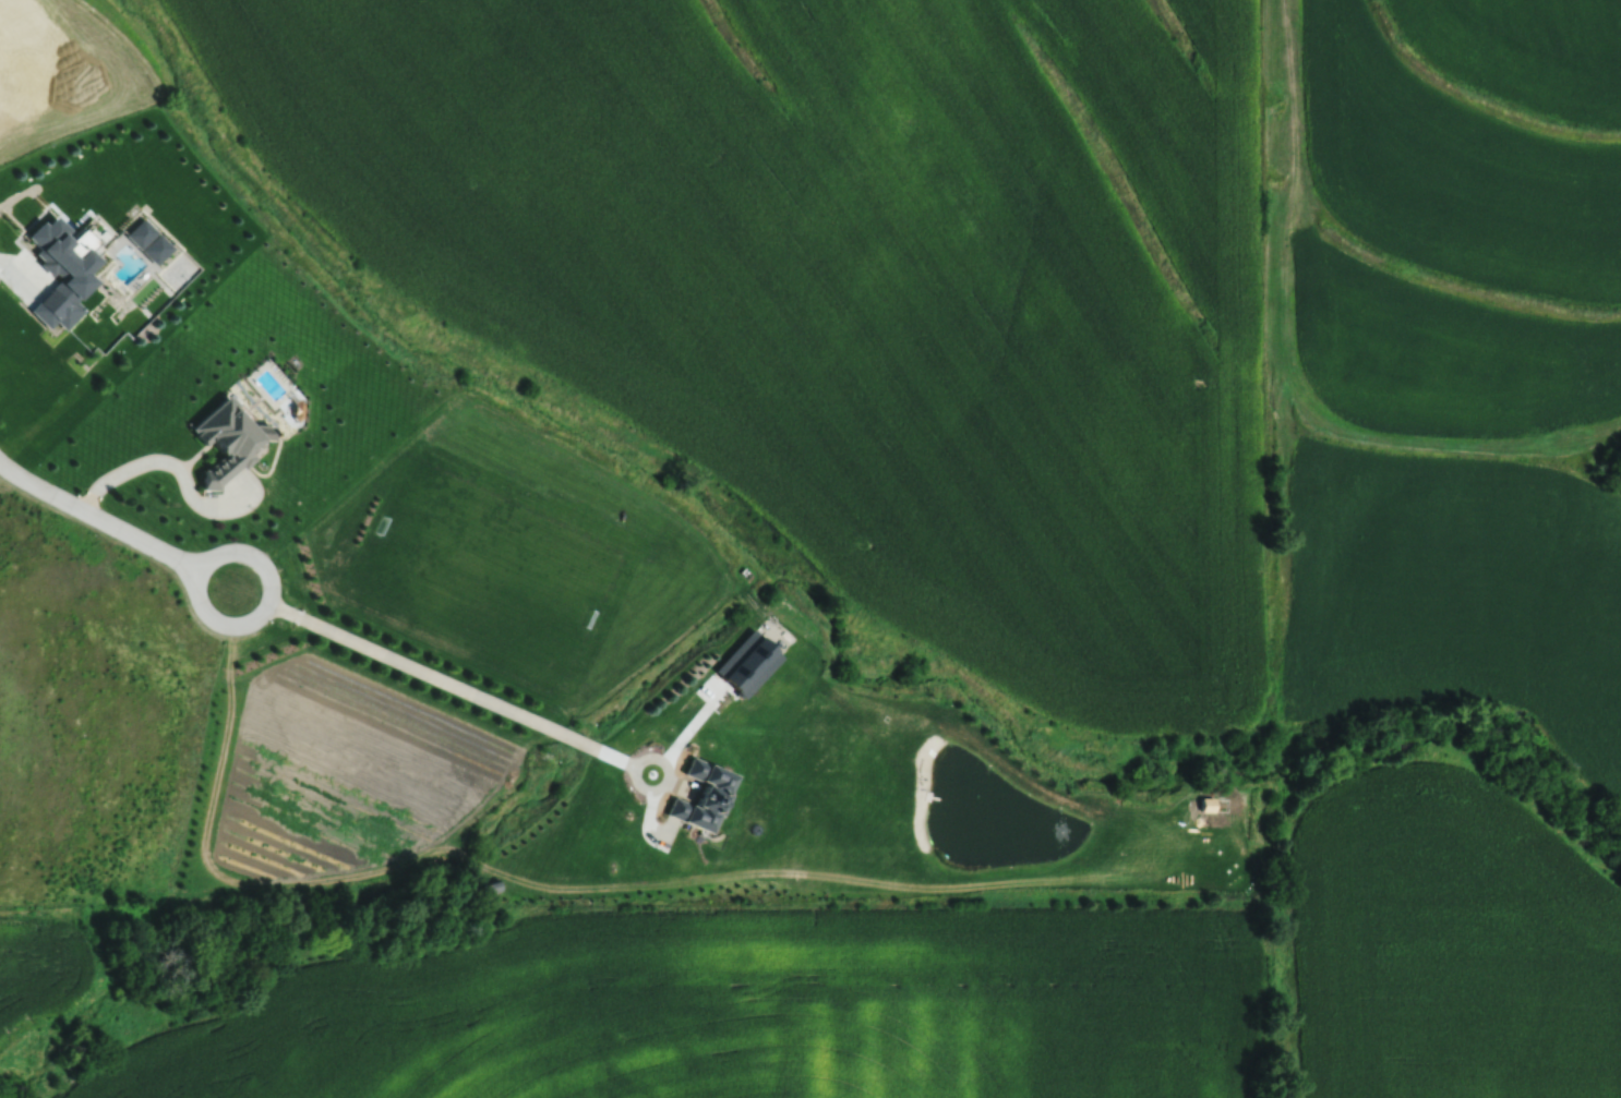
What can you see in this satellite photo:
road: (22, 269)
road: (164, 462)
road: (112, 532)
road: (439, 684)
building: (696, 796)
building: (488, 889)

